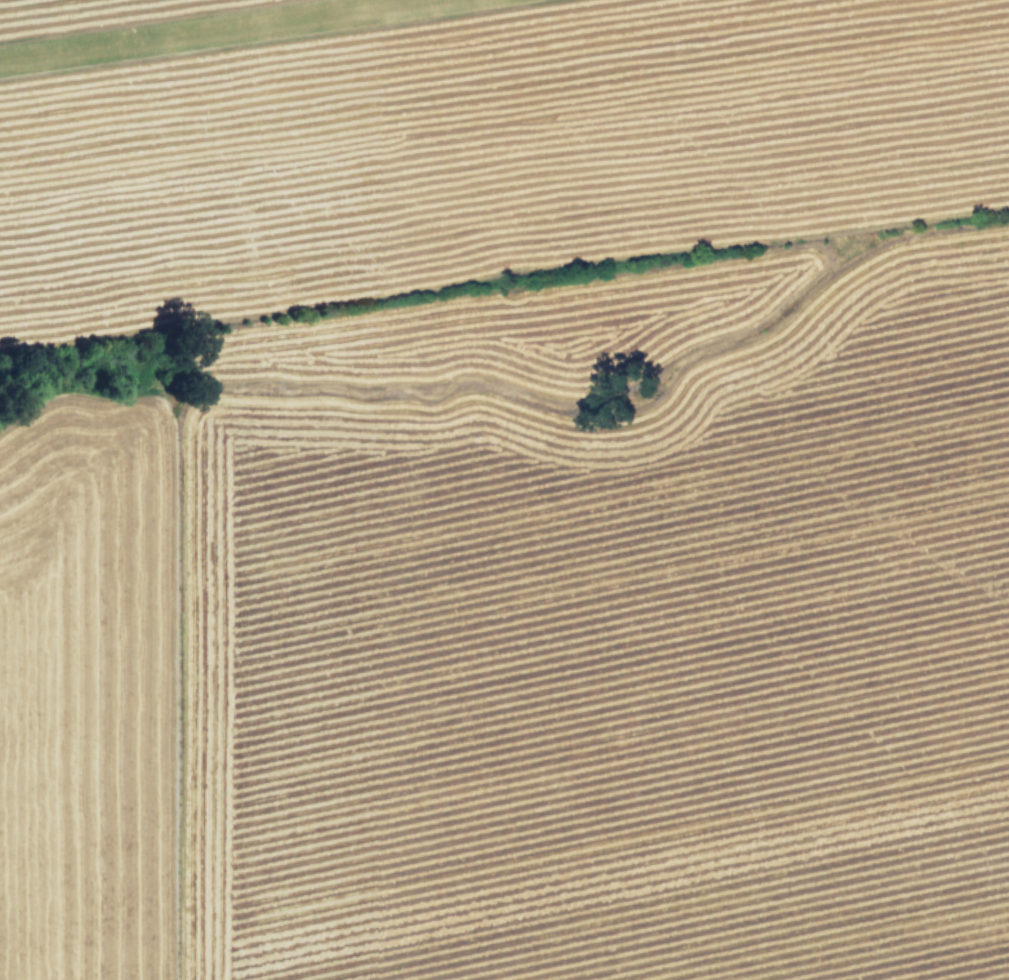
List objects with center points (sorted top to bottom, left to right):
airport runway: (231, 33)
crop: (504, 490)

